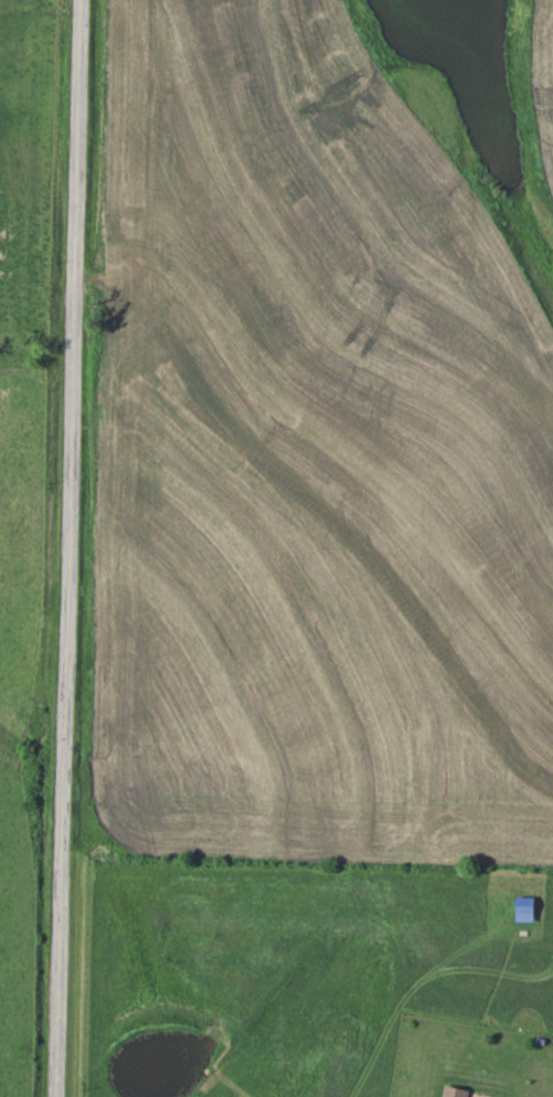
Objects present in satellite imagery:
road: (76, 548)
building: (458, 1090)

